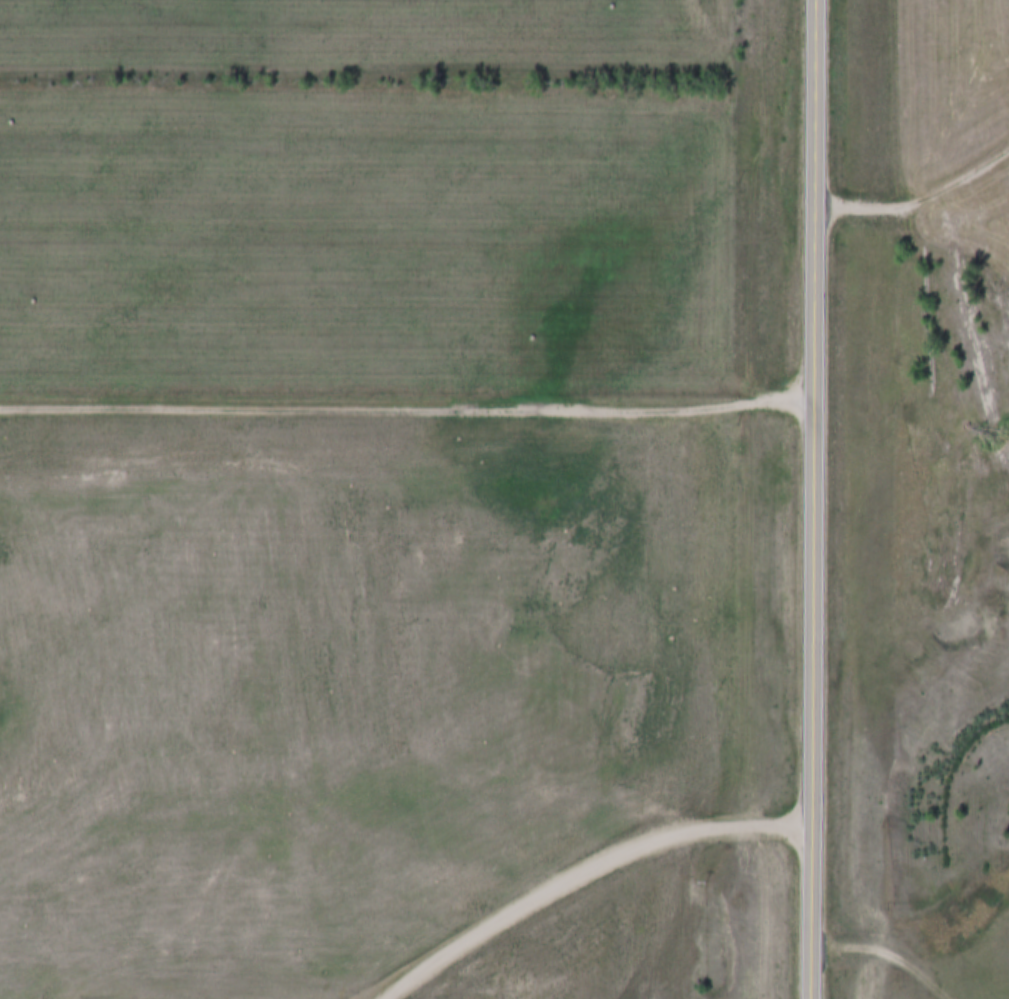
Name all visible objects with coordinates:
road: (919, 198)
road: (817, 499)
quarry: (356, 689)
road: (886, 954)

